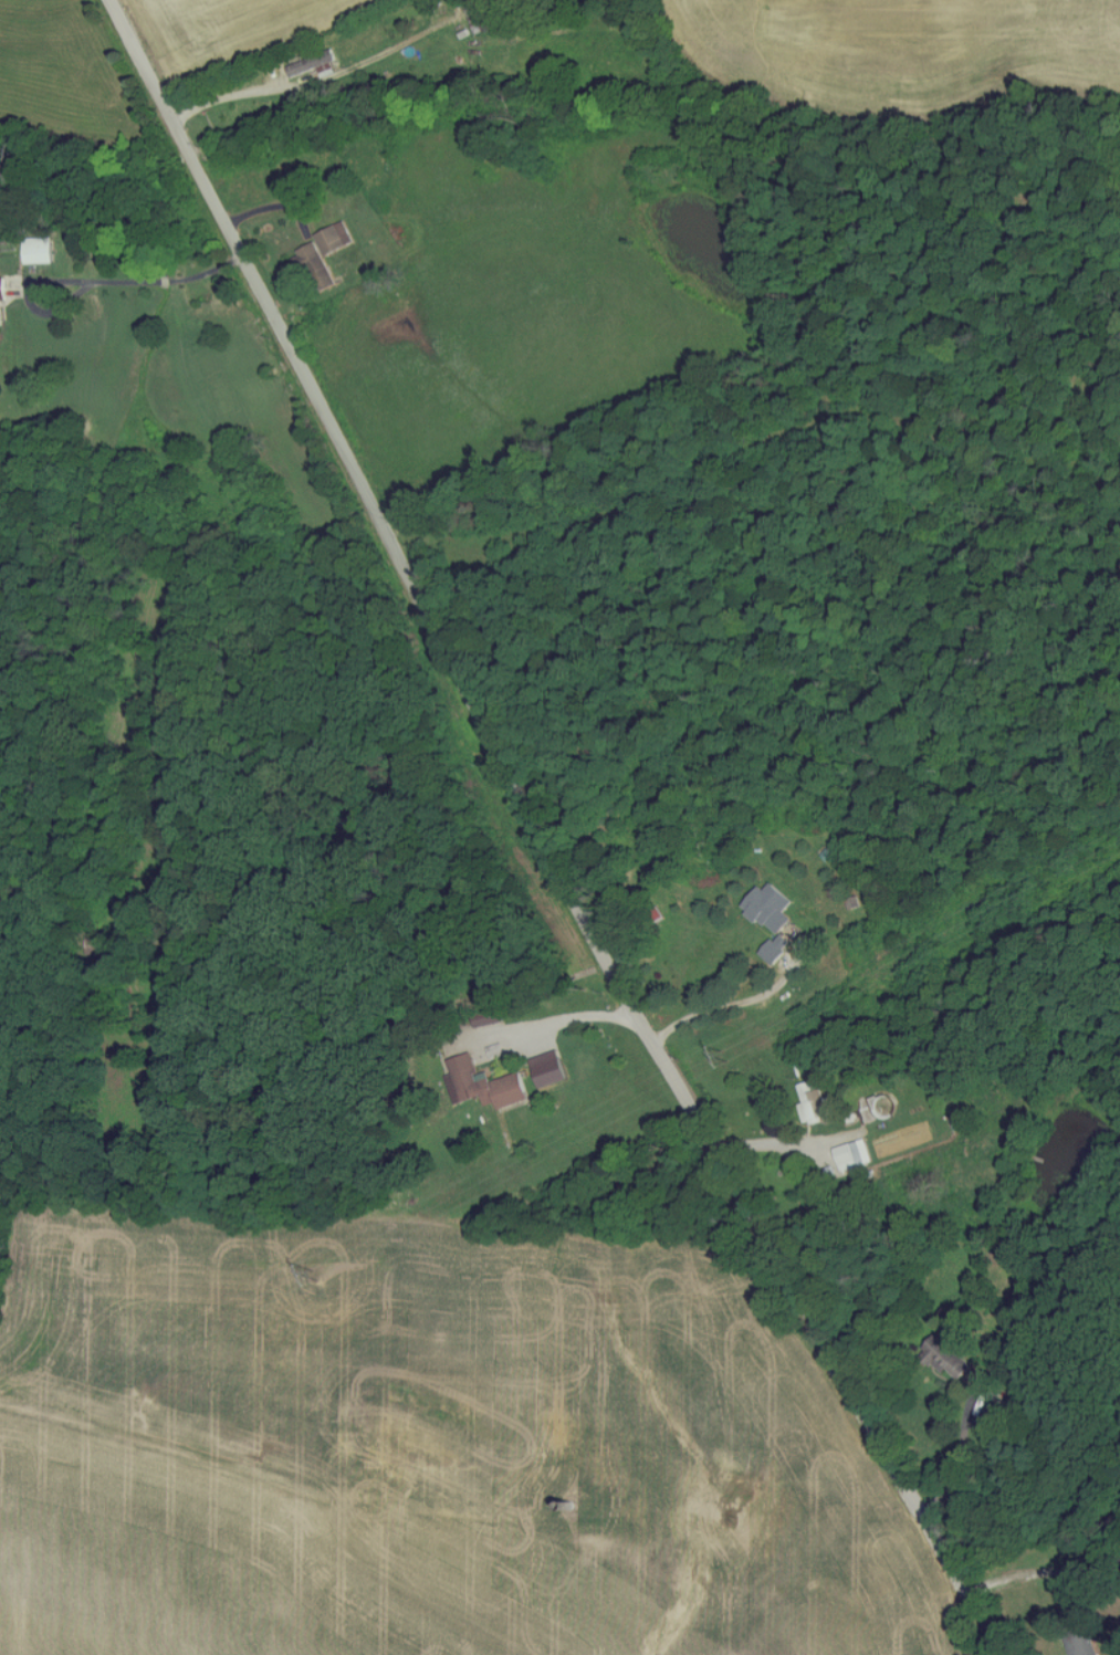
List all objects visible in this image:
road: (257, 91)
building: (40, 250)
road: (166, 280)
road: (35, 284)
building: (2, 297)
road: (531, 842)
building: (771, 908)
building: (777, 949)
building: (490, 1017)
road: (725, 1019)
road: (559, 1030)
building: (549, 1069)
building: (484, 1085)
building: (814, 1104)
building: (948, 1355)
building: (1081, 1644)

